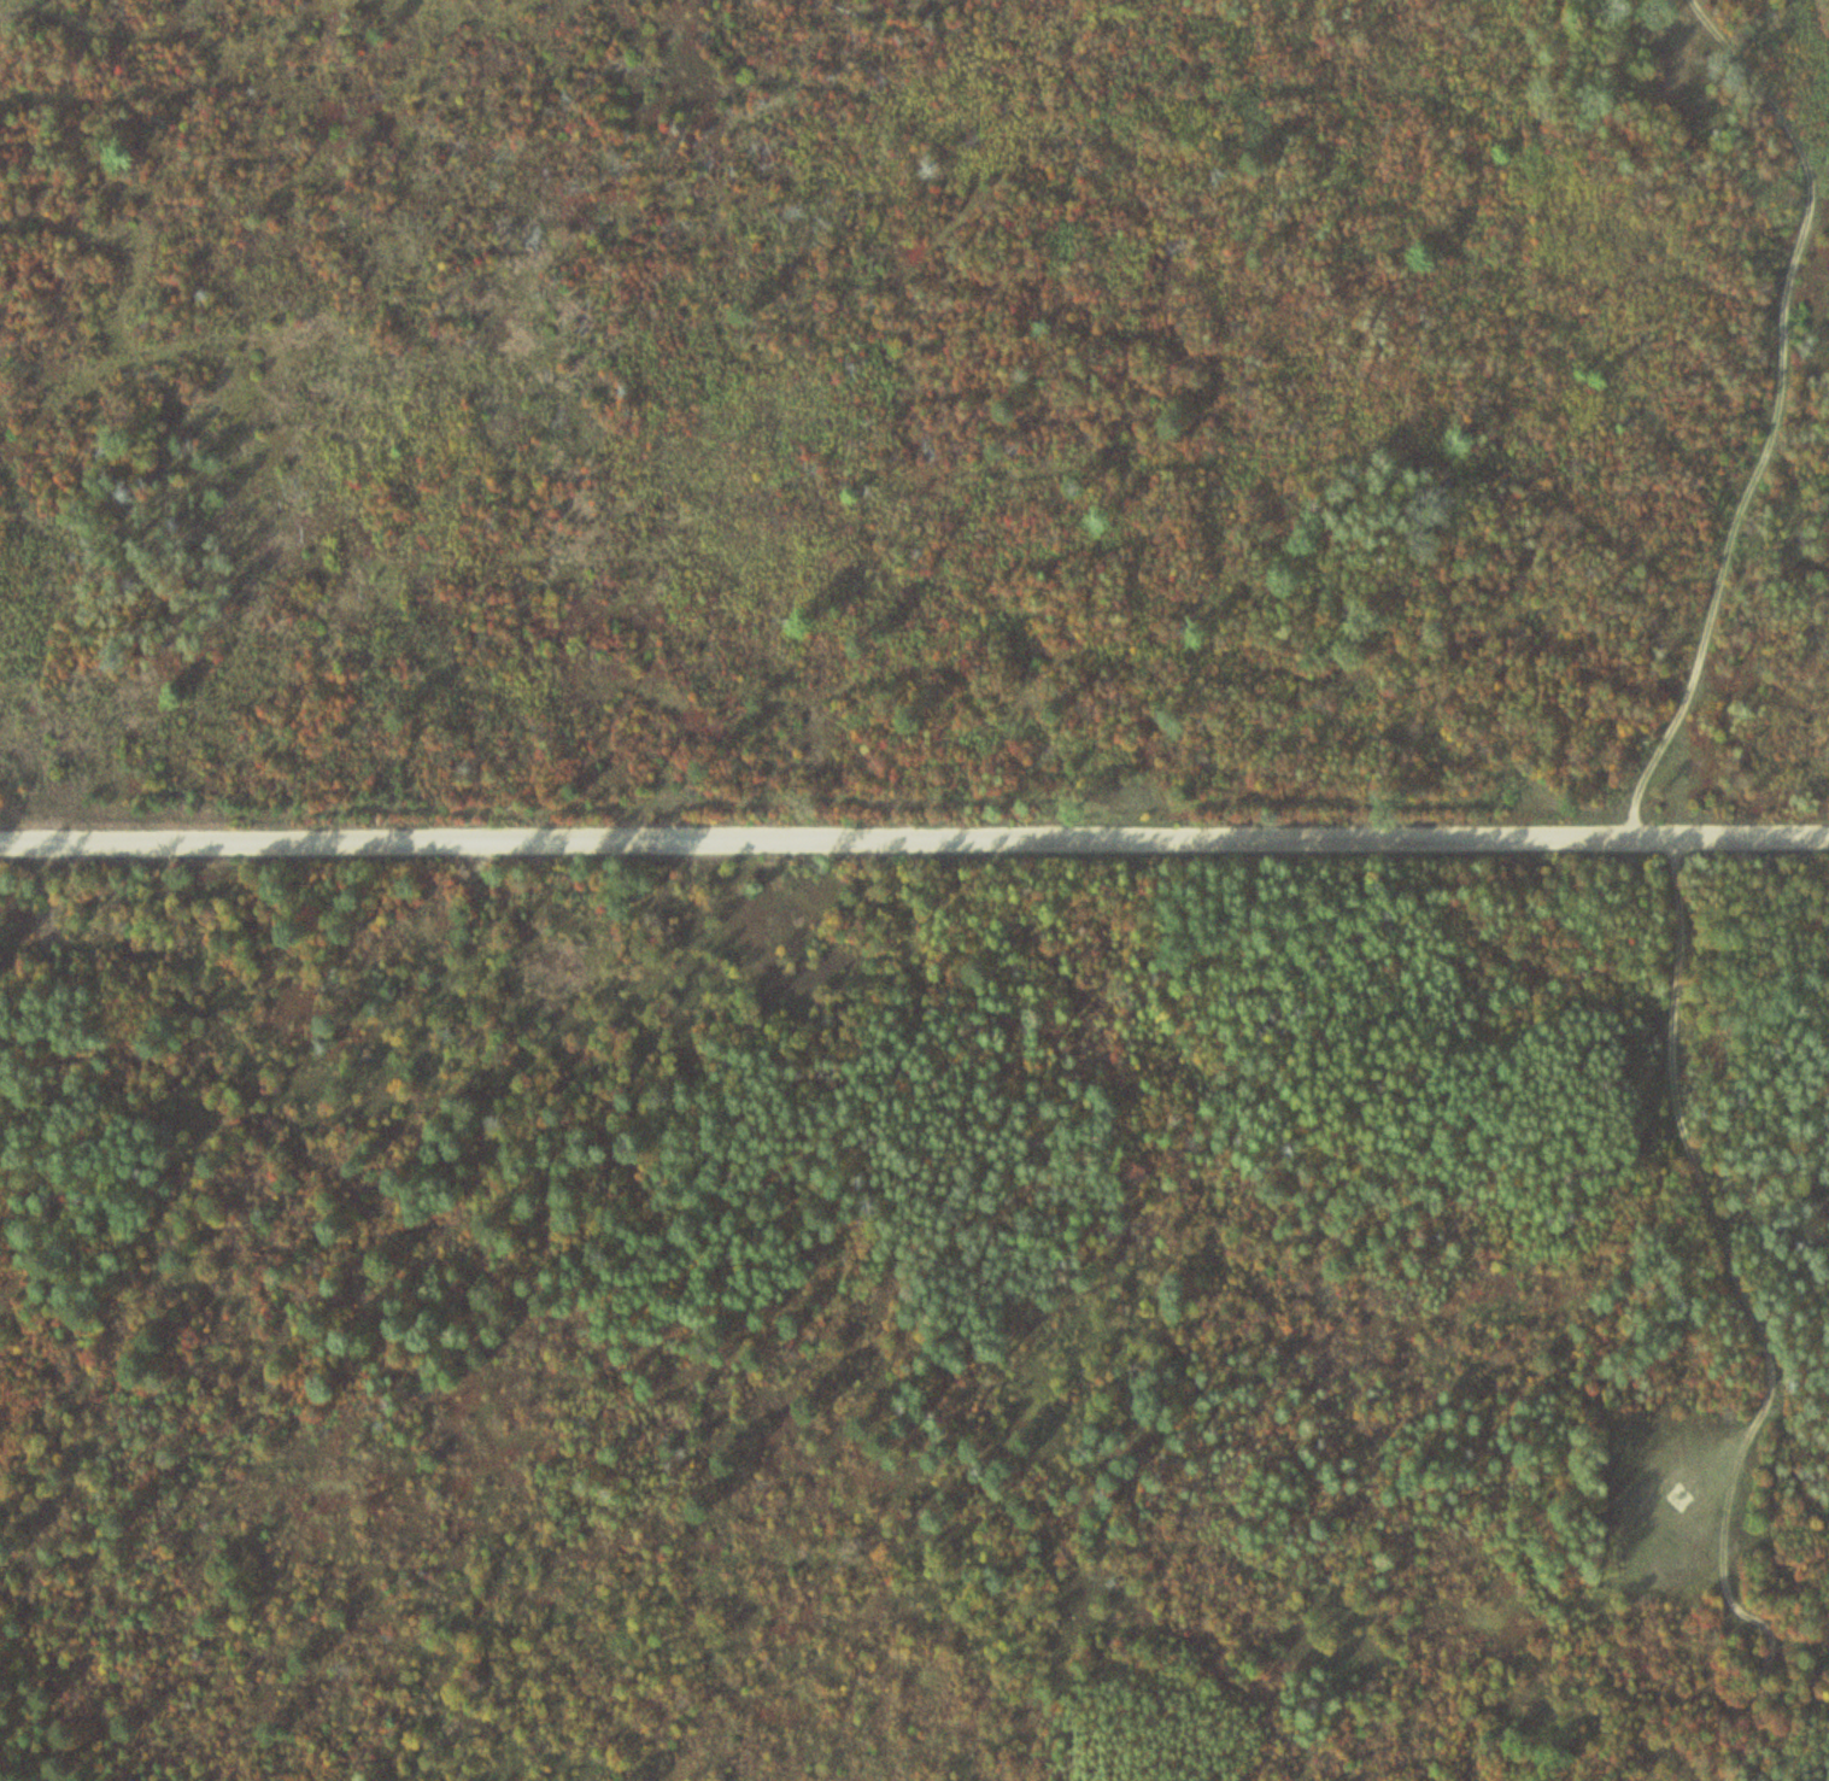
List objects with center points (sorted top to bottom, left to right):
road: (1755, 408)
road: (914, 836)
road: (1754, 1320)

